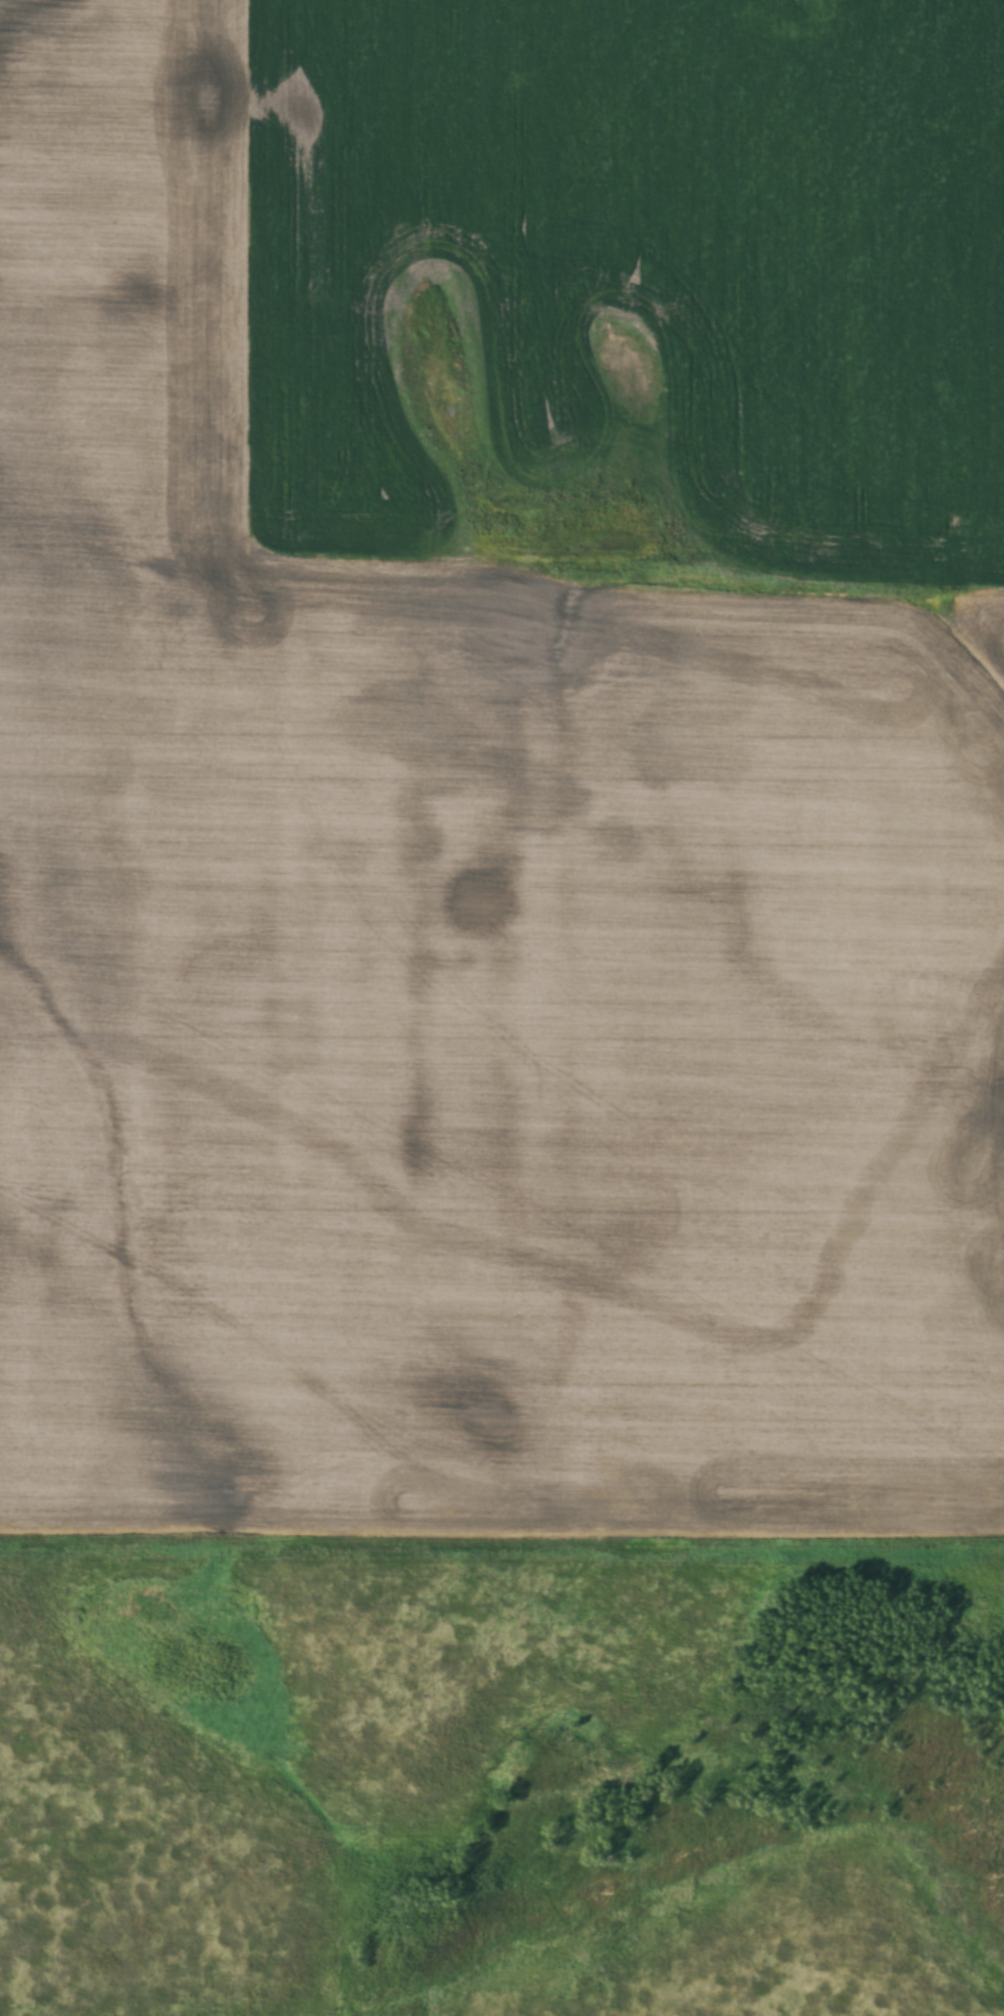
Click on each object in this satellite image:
crop: (449, 958)

